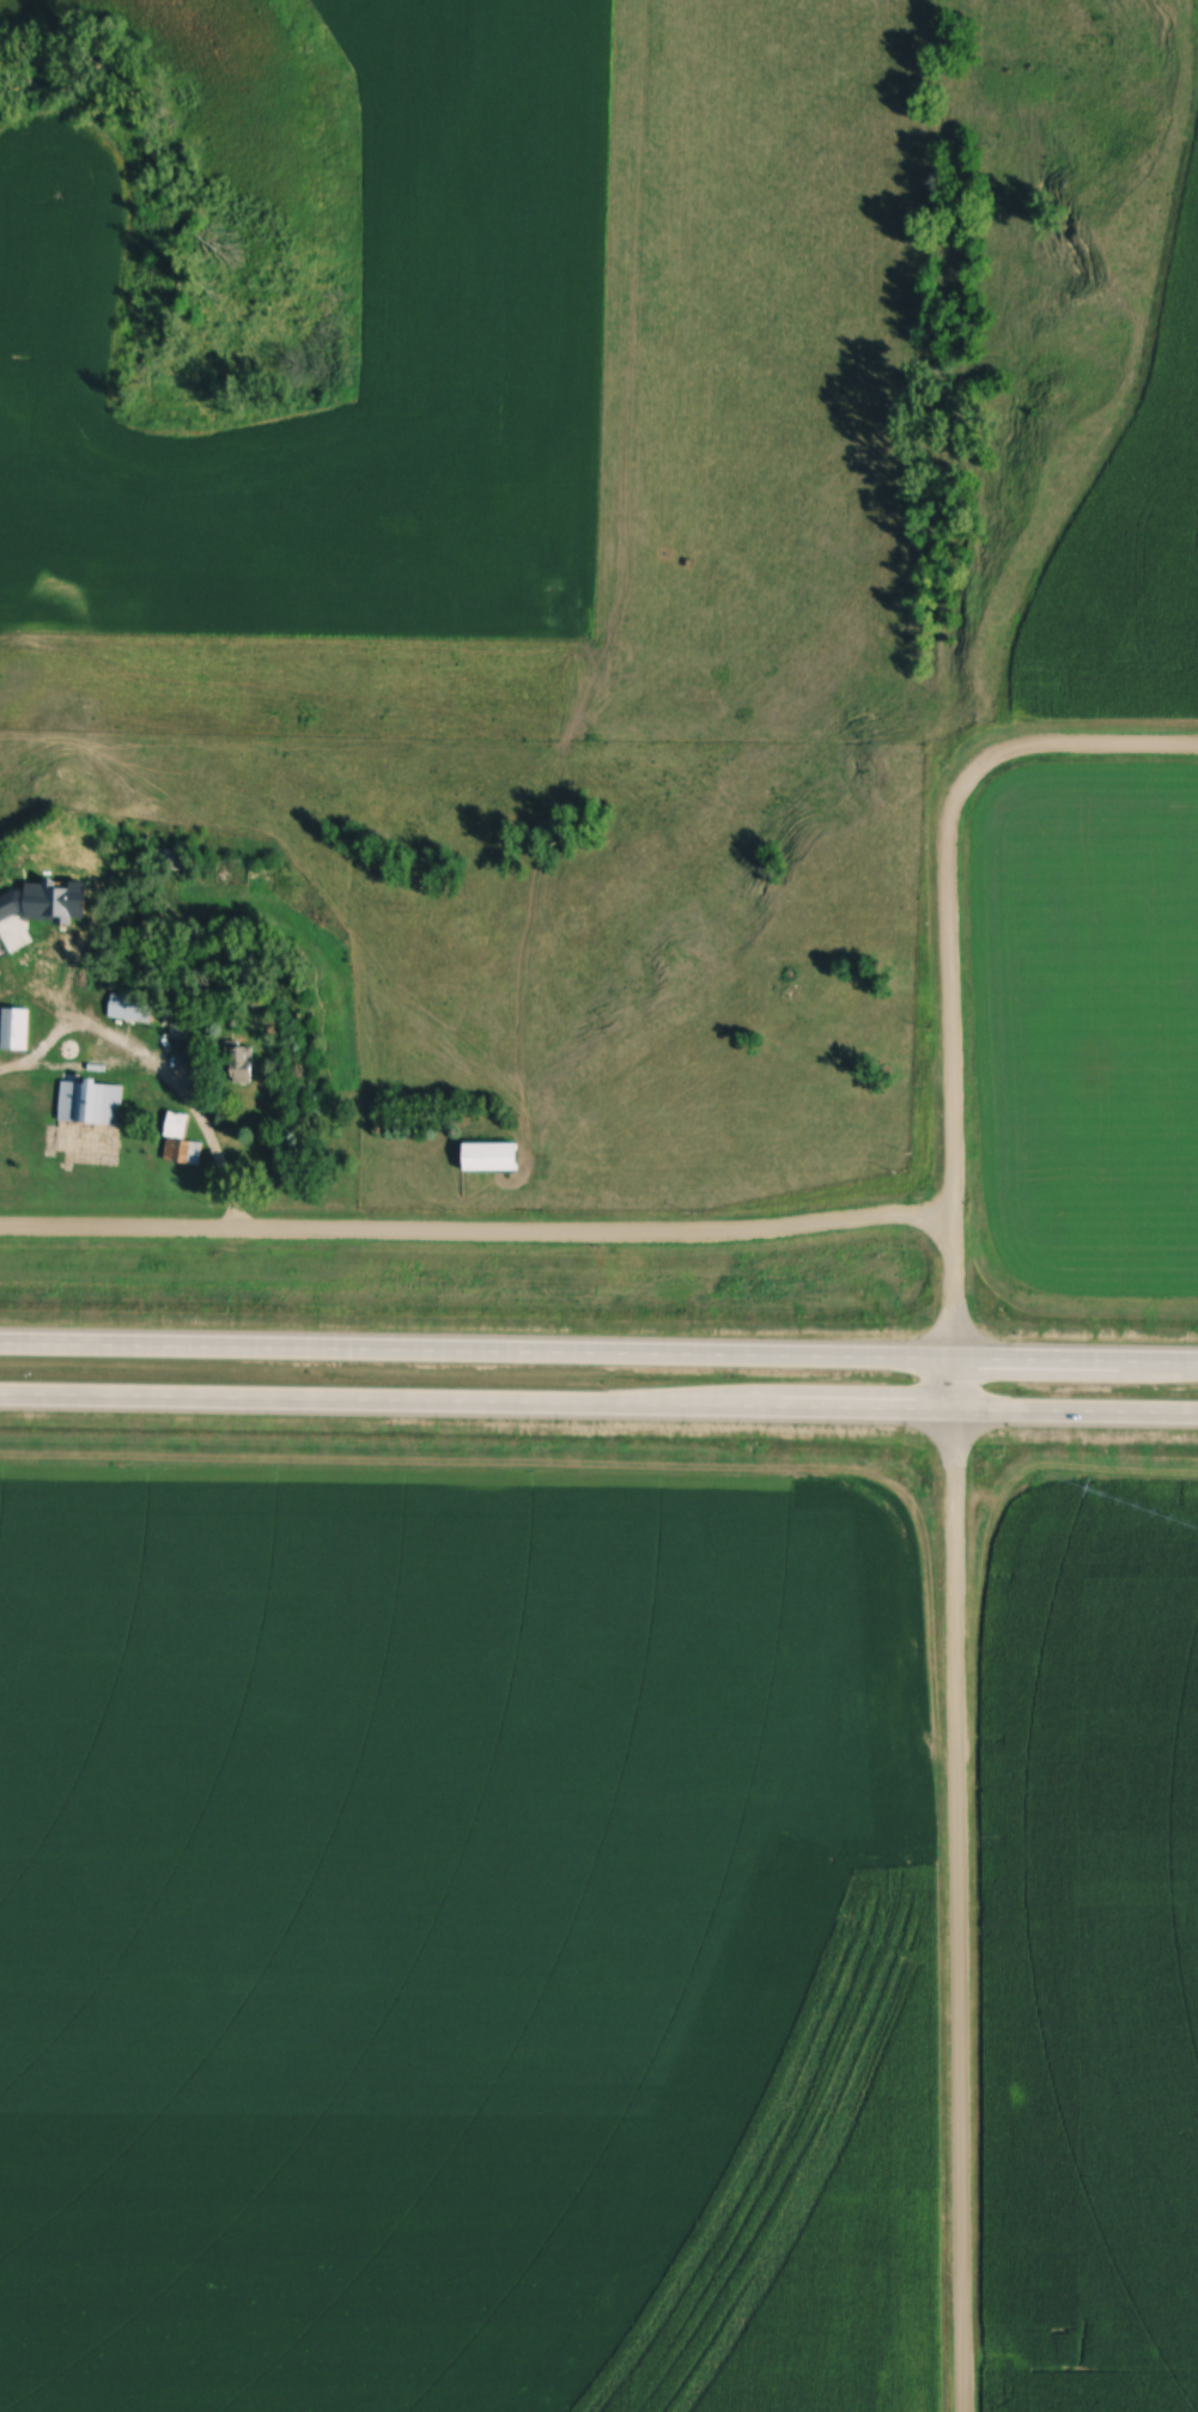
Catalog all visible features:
road: (1058, 751)
building: (72, 870)
building: (56, 924)
building: (41, 989)
building: (63, 996)
building: (134, 1008)
building: (18, 1028)
building: (247, 1065)
road: (158, 1067)
building: (93, 1102)
building: (186, 1153)
building: (494, 1158)
road: (475, 1237)
road: (598, 1350)
road: (598, 1405)
road: (954, 1611)

